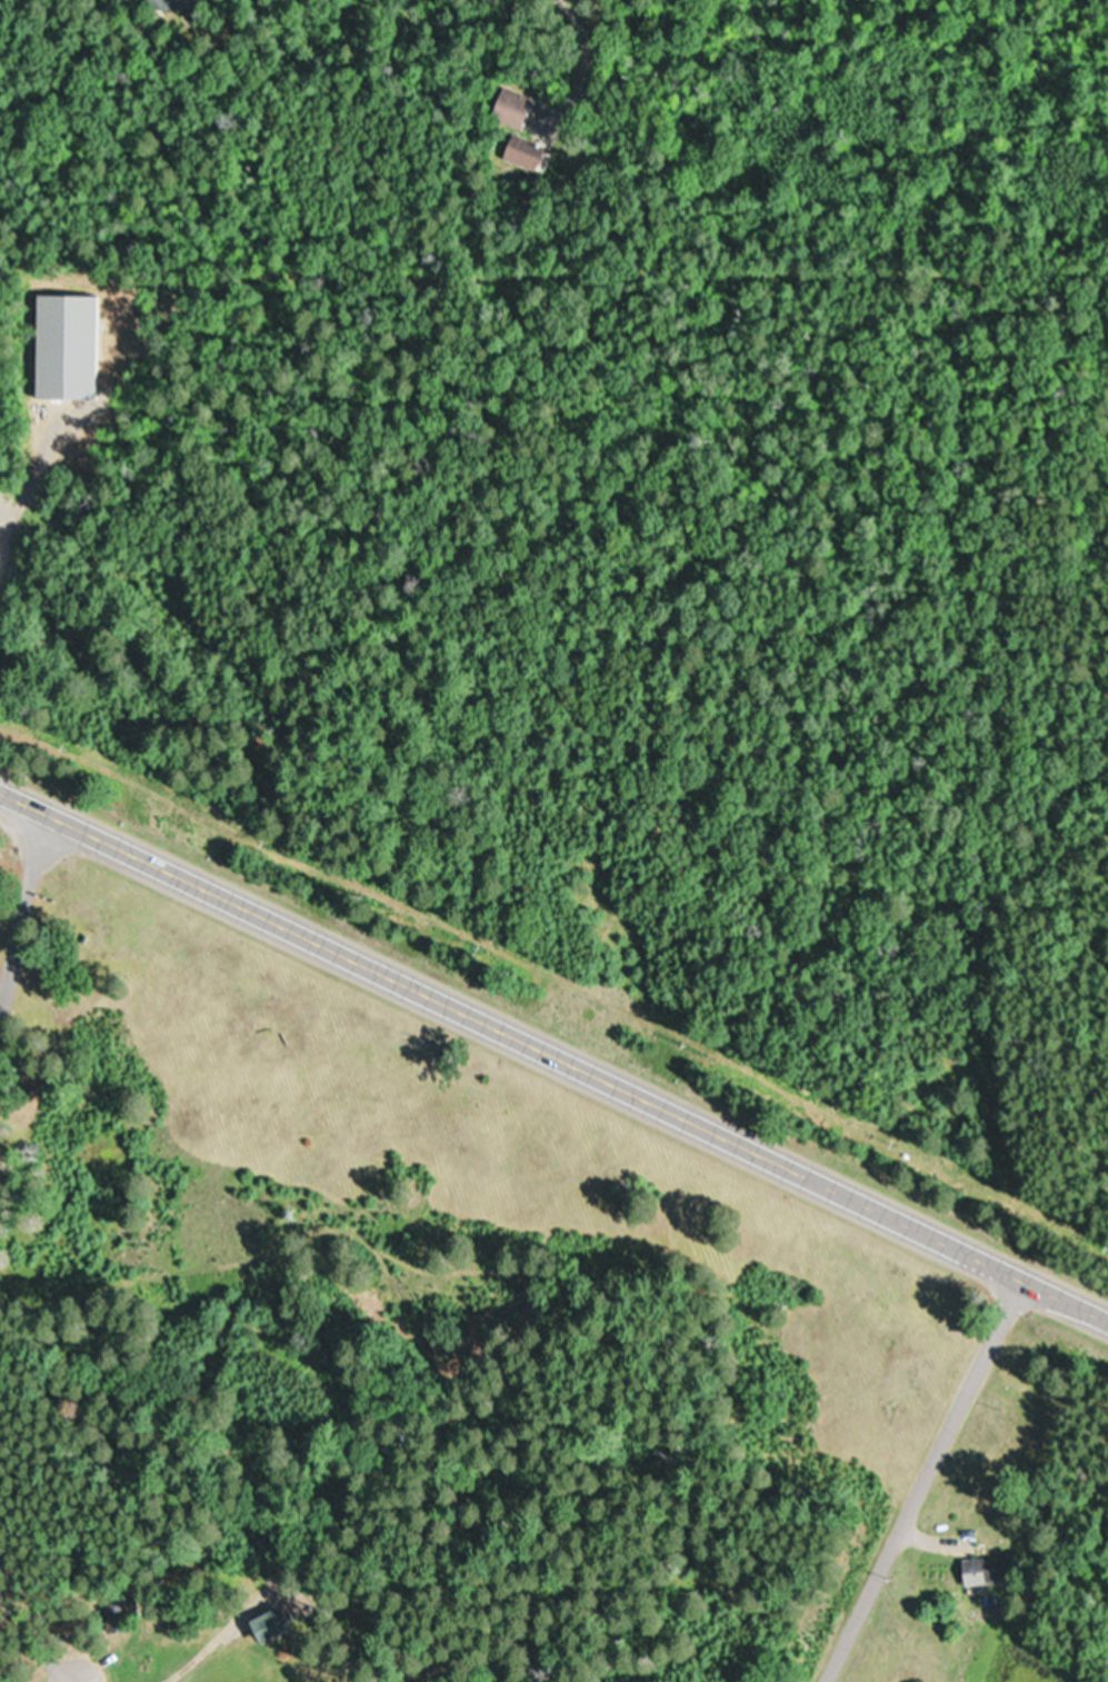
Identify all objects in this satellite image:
building: (173, 6)
building: (510, 109)
building: (523, 153)
road: (22, 917)
road: (555, 1049)
road: (918, 1476)
building: (979, 1572)
building: (114, 1616)
road: (32, 1651)

